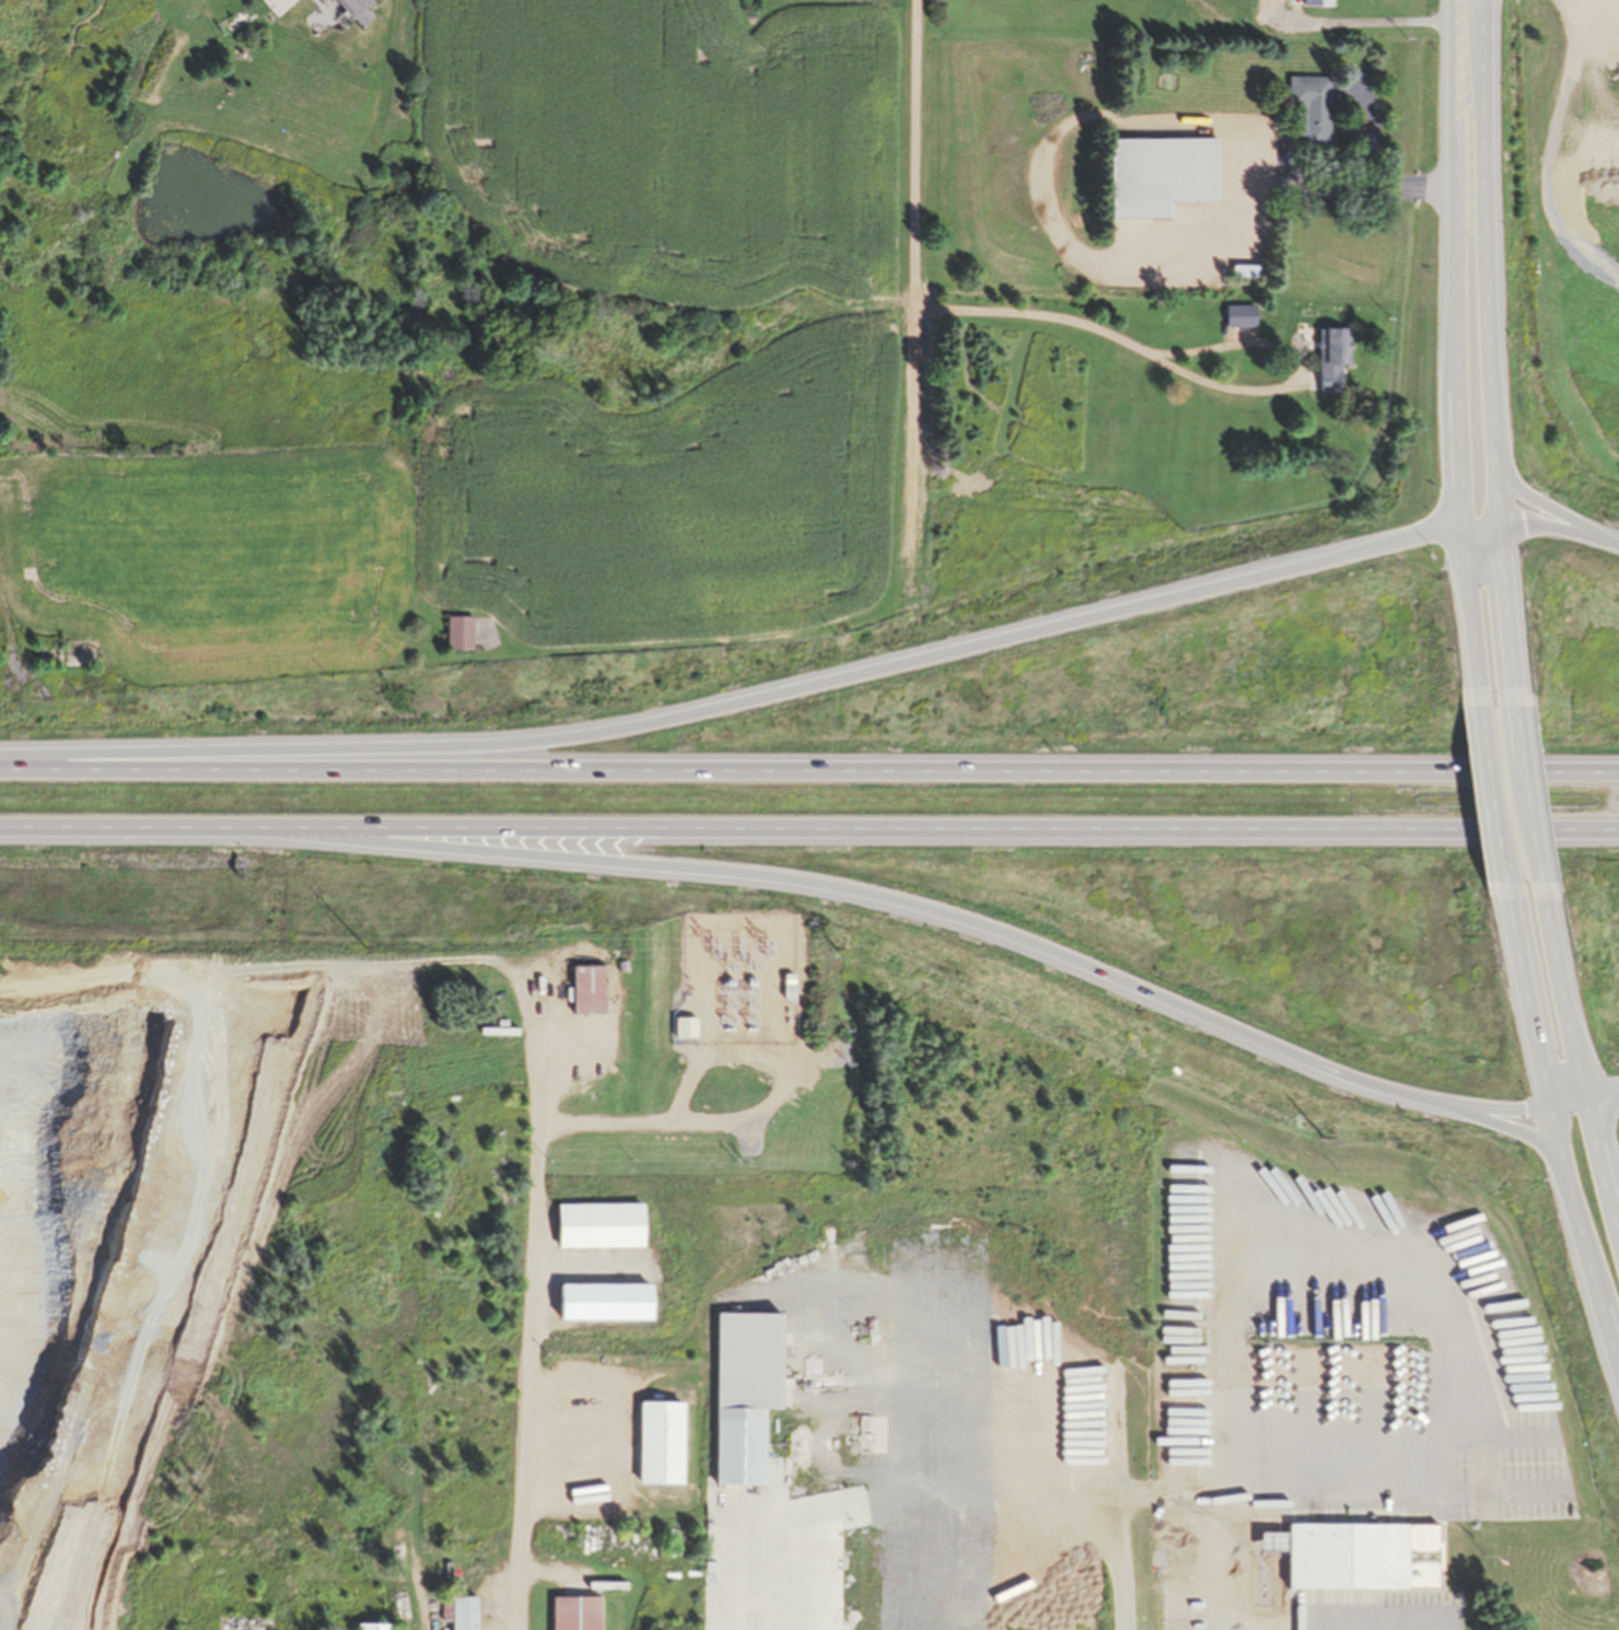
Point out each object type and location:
building: (1314, 2)
building: (1307, 108)
building: (1156, 175)
road: (1481, 230)
road: (1453, 261)
building: (1241, 272)
road: (912, 280)
road: (1305, 358)
building: (1329, 358)
quarry: (182, 414)
road: (1492, 492)
road: (1545, 508)
road: (1476, 524)
road: (1552, 528)
road: (1614, 546)
road: (1501, 612)
road: (1468, 613)
building: (456, 631)
road: (747, 697)
road: (809, 766)
road: (1491, 790)
road: (1525, 793)
road: (809, 829)
road: (886, 897)
power tower: (766, 943)
power tower: (365, 944)
power tower: (707, 945)
power tower: (832, 945)
power substation: (737, 979)
building: (784, 985)
building: (587, 989)
road: (1525, 989)
road: (1557, 991)
road: (1597, 1090)
road: (1561, 1098)
road: (1499, 1105)
road: (1506, 1128)
road: (1553, 1129)
power tower: (1321, 1134)
road: (1597, 1176)
building: (596, 1224)
road: (1586, 1264)
quarry: (234, 1267)
building: (601, 1300)
building: (742, 1392)
building: (656, 1442)
road: (475, 1448)
building: (1361, 1556)
building: (459, 1612)
building: (572, 1612)
building: (370, 1626)

